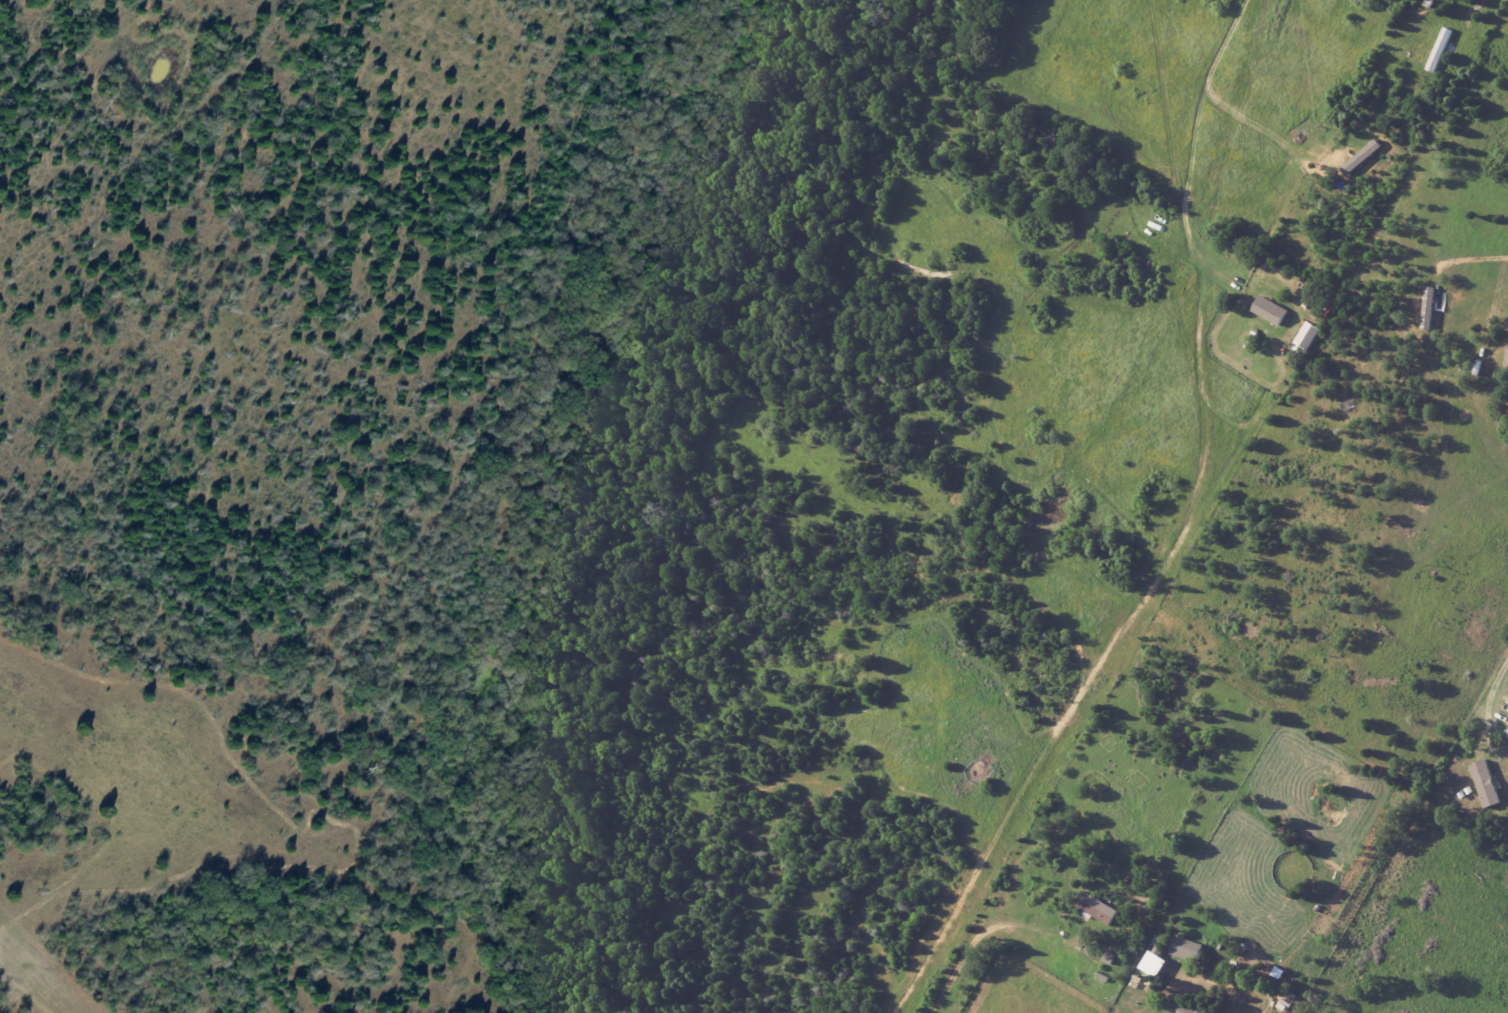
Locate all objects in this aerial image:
road: (1222, 153)
building: (1430, 308)
building: (1272, 310)
building: (1309, 335)
building: (1507, 363)
road: (1486, 693)
building: (1507, 739)
building: (1486, 784)
building: (1098, 908)
building: (1187, 949)
building: (1154, 964)
building: (1192, 1009)

